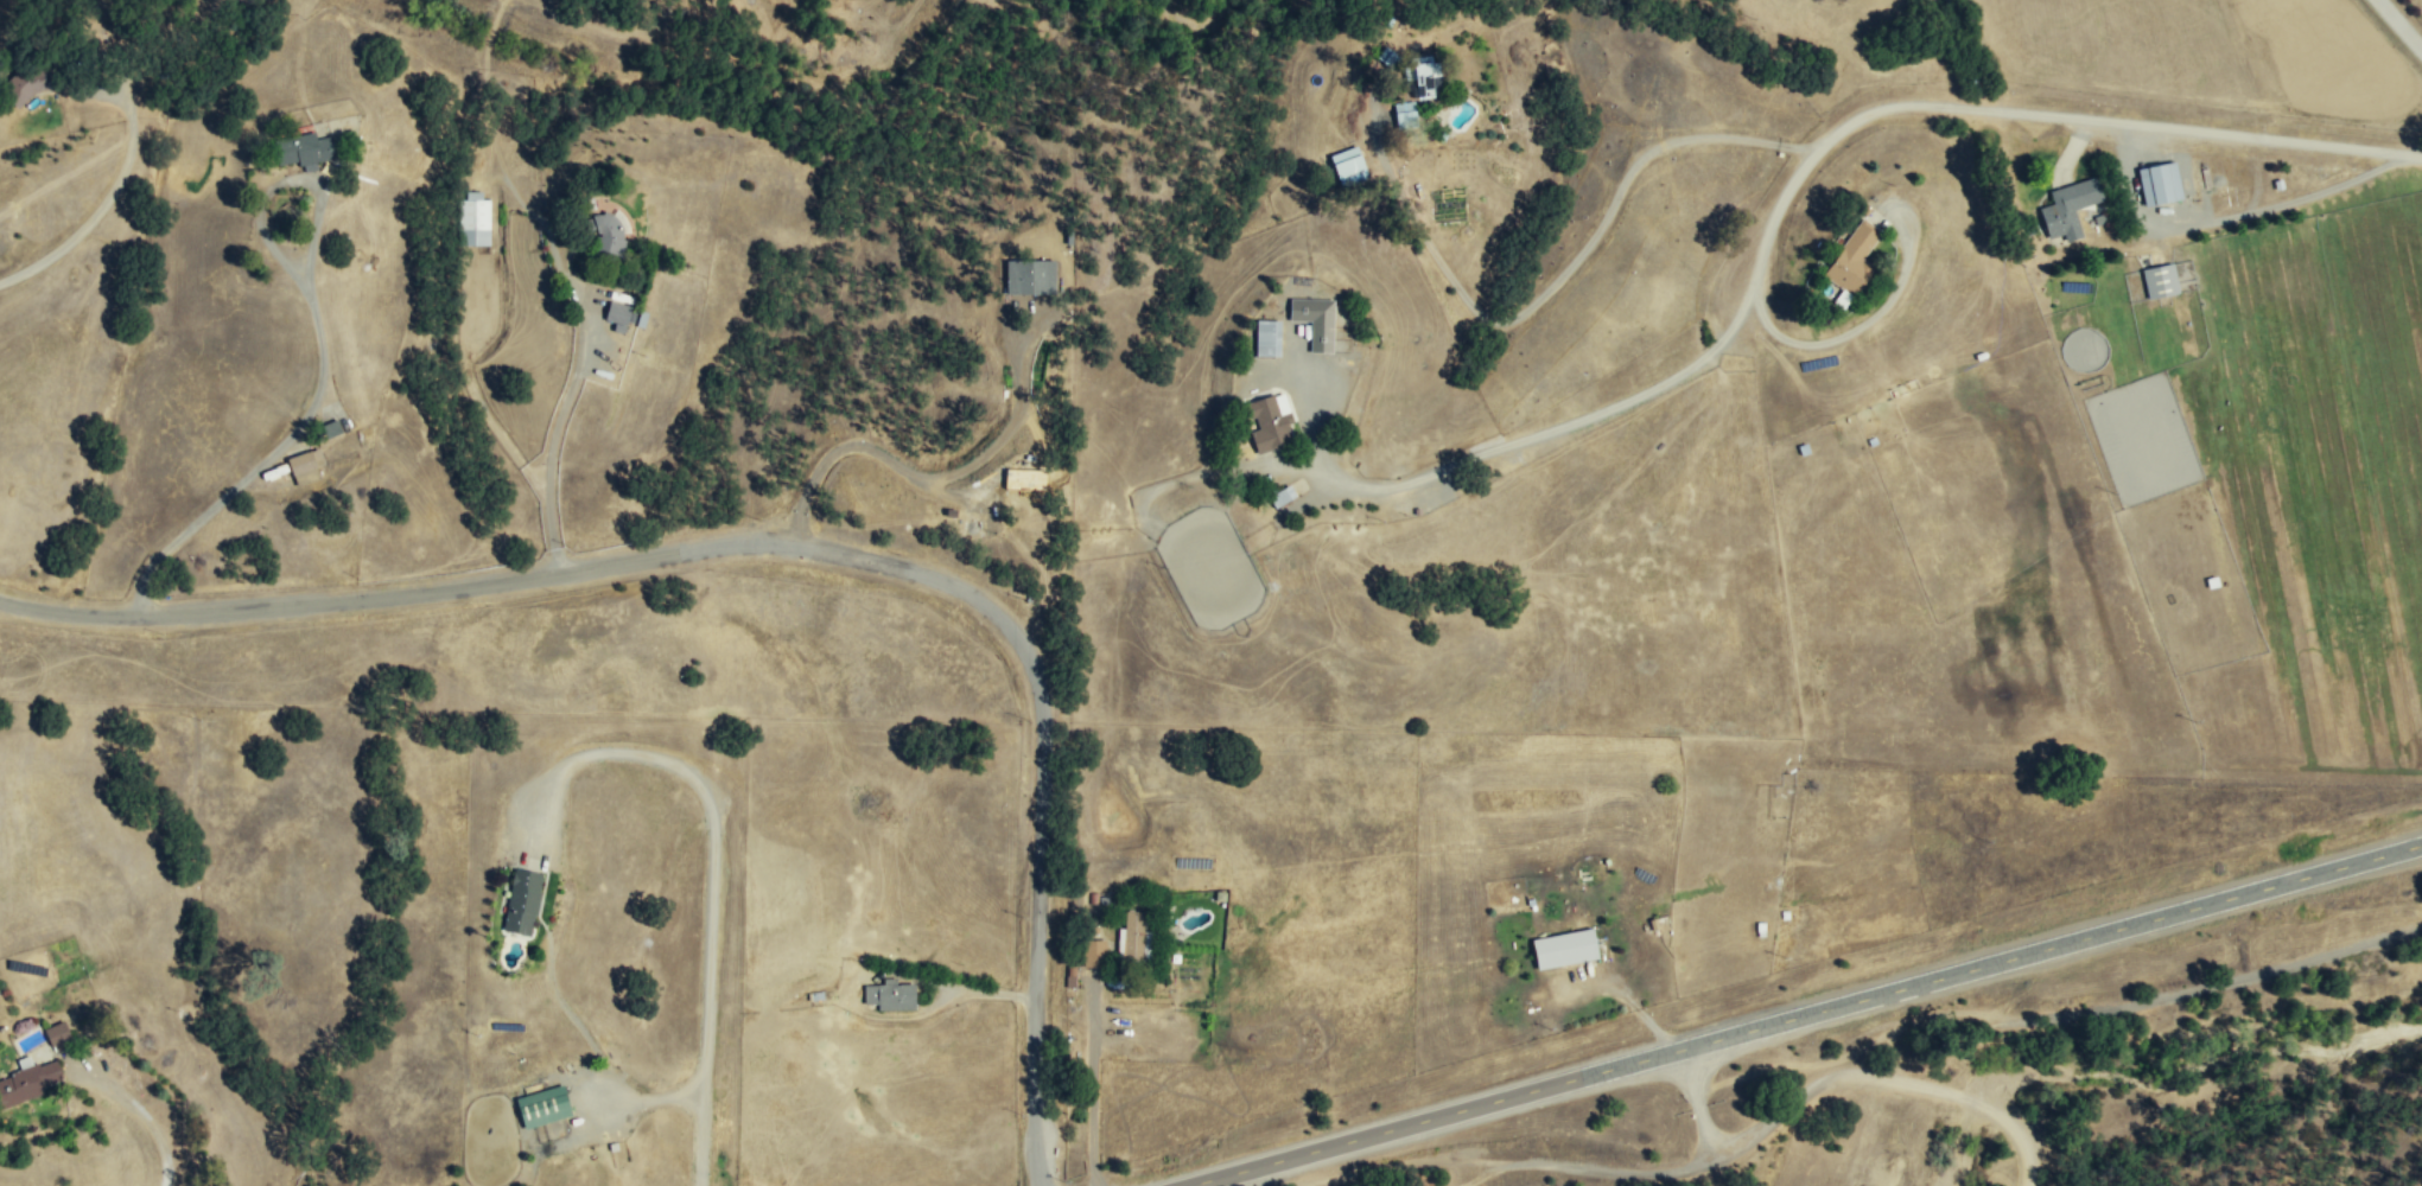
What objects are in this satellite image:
road: (2404, 20)
building: (1385, 55)
building: (1424, 78)
building: (28, 83)
road: (2029, 111)
building: (303, 149)
building: (1348, 165)
building: (2159, 183)
building: (2070, 206)
road: (98, 211)
building: (475, 218)
building: (609, 231)
road: (1575, 251)
building: (1854, 257)
building: (1030, 276)
building: (2160, 280)
building: (619, 315)
building: (1315, 320)
building: (1266, 337)
road: (322, 352)
crop: (2386, 376)
building: (1270, 421)
road: (554, 422)
building: (331, 428)
road: (496, 429)
building: (305, 466)
crop: (2277, 534)
road: (796, 549)
building: (522, 901)
building: (1133, 936)
building: (1564, 949)
building: (1093, 952)
building: (890, 995)
road: (1808, 1018)
building: (57, 1035)
road: (1851, 1077)
building: (26, 1083)
building: (542, 1105)
road: (140, 1111)

